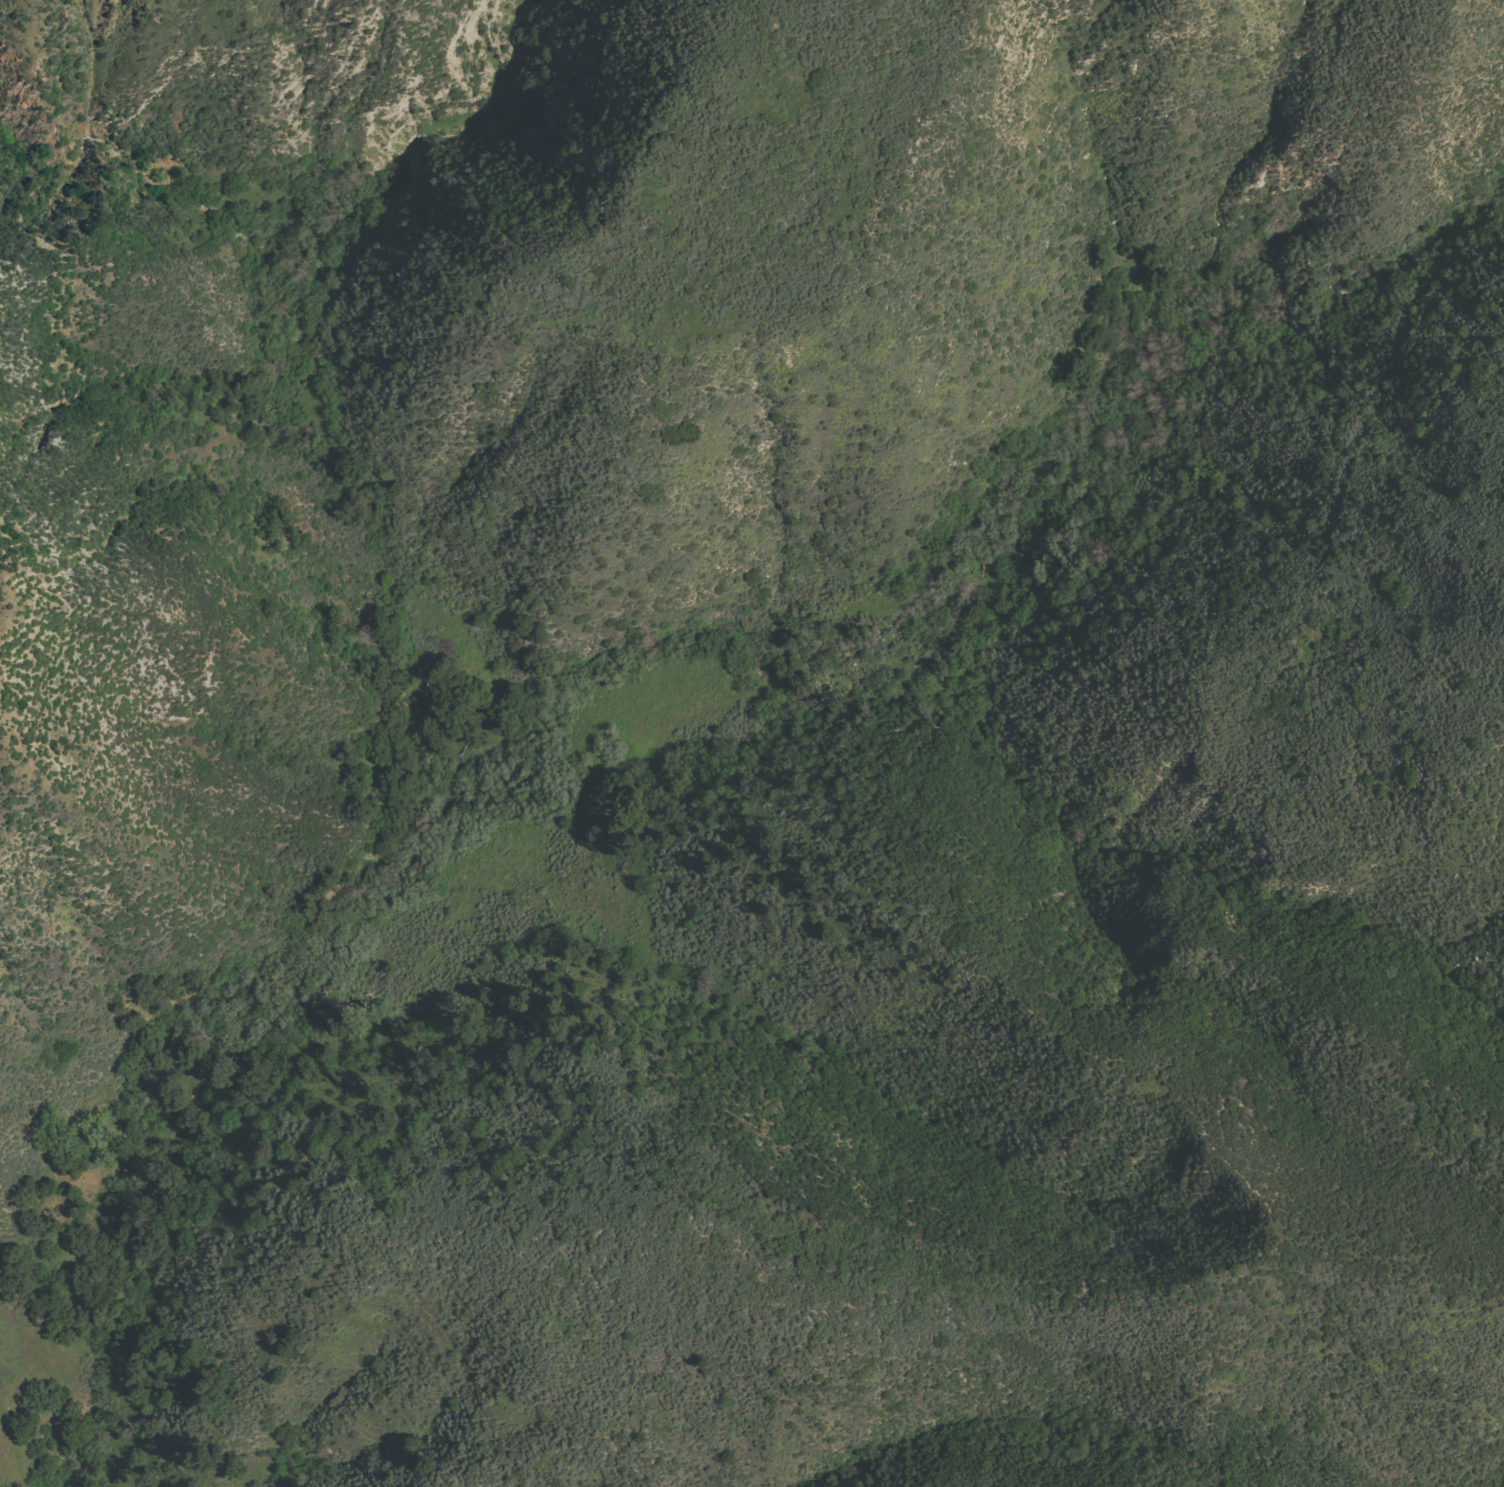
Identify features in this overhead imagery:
road: (286, 1007)
road: (10, 1350)

